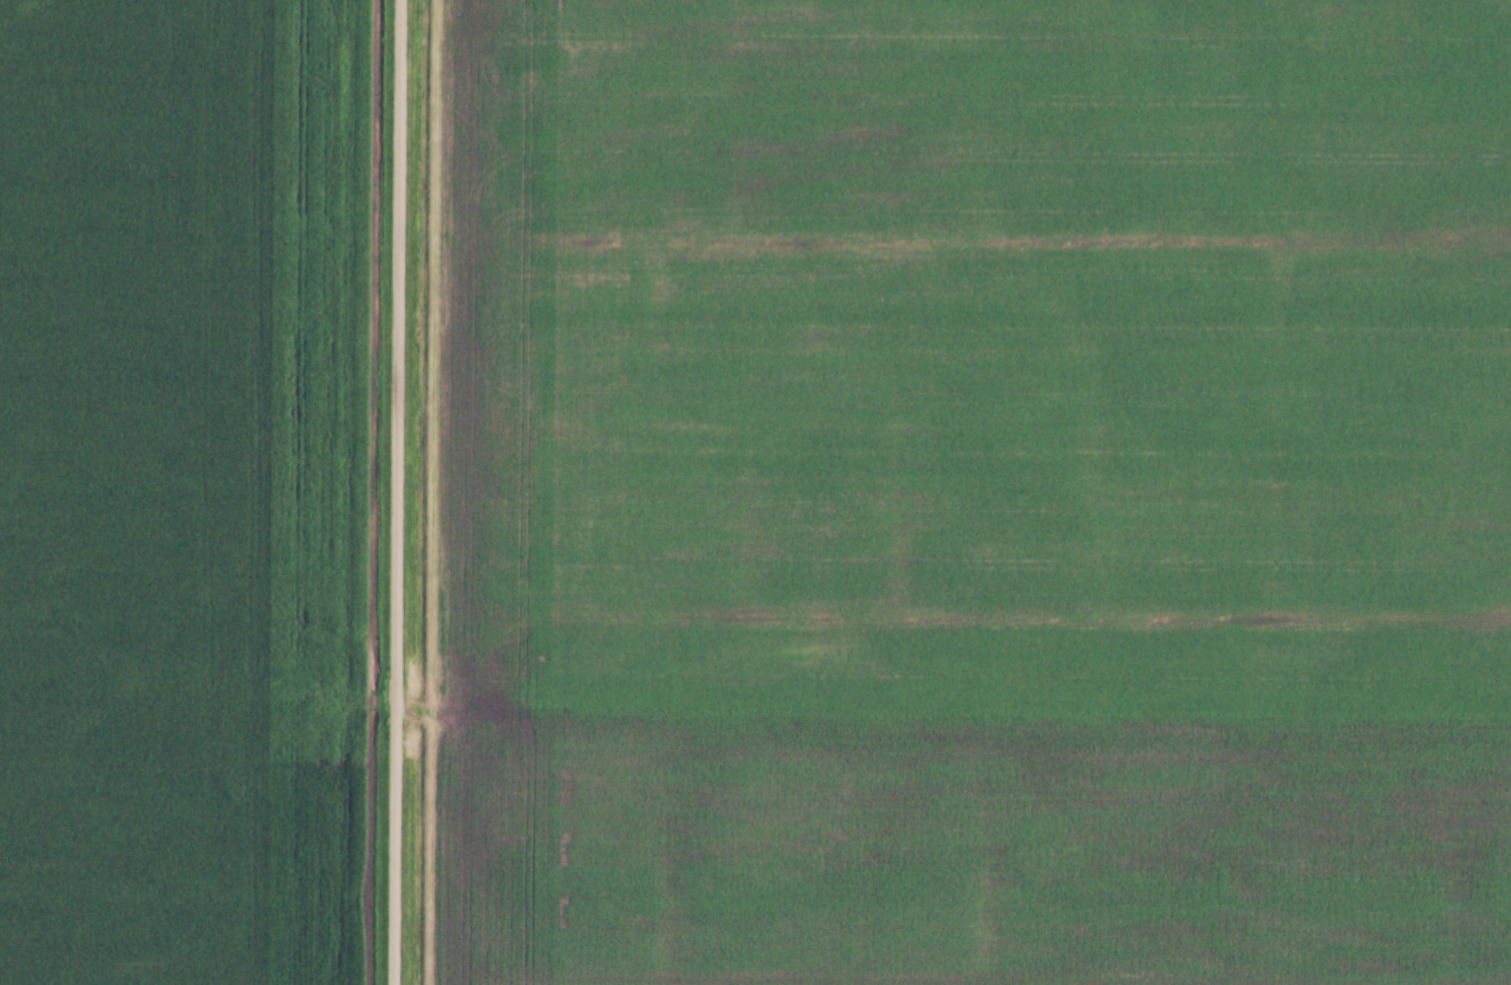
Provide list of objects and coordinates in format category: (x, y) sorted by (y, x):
road: (395, 492)

